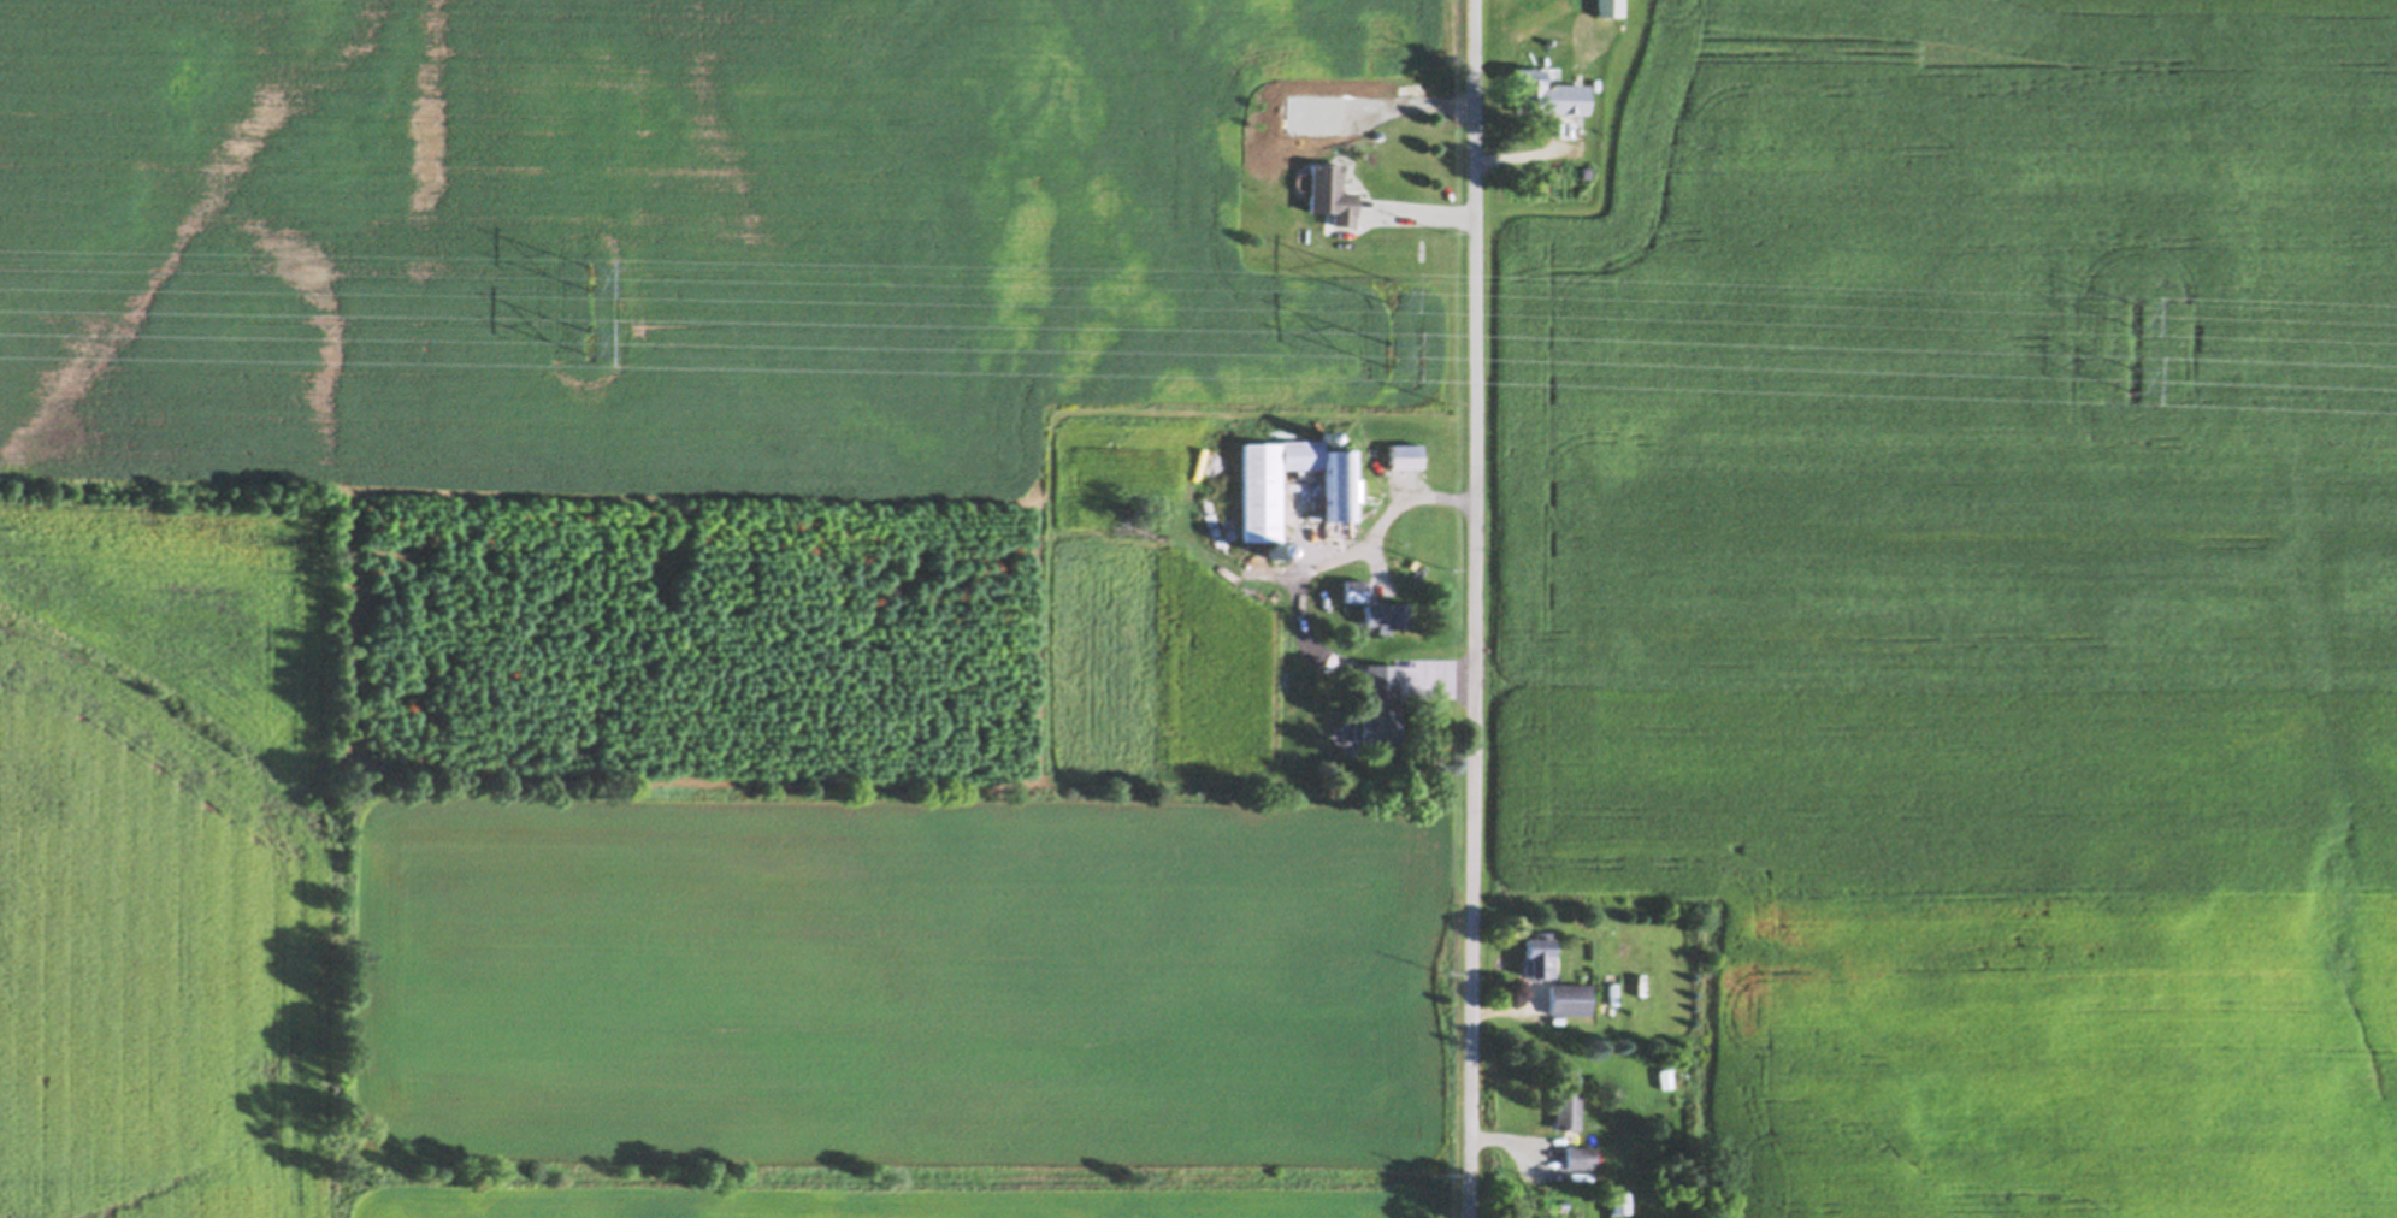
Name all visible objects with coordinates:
building: (1608, 5)
building: (1547, 88)
building: (1584, 168)
building: (1328, 189)
road: (1421, 211)
power tower: (589, 274)
power tower: (1389, 291)
power tower: (2133, 309)
power tower: (585, 341)
power tower: (1386, 351)
power tower: (2130, 376)
building: (1370, 442)
building: (1427, 448)
building: (1261, 497)
road: (1395, 504)
building: (1276, 549)
building: (1306, 551)
building: (1353, 586)
road: (1470, 609)
building: (1383, 611)
building: (1380, 698)
building: (1537, 952)
building: (1606, 986)
building: (1569, 997)
building: (1565, 1107)
building: (1578, 1155)
building: (1618, 1200)

